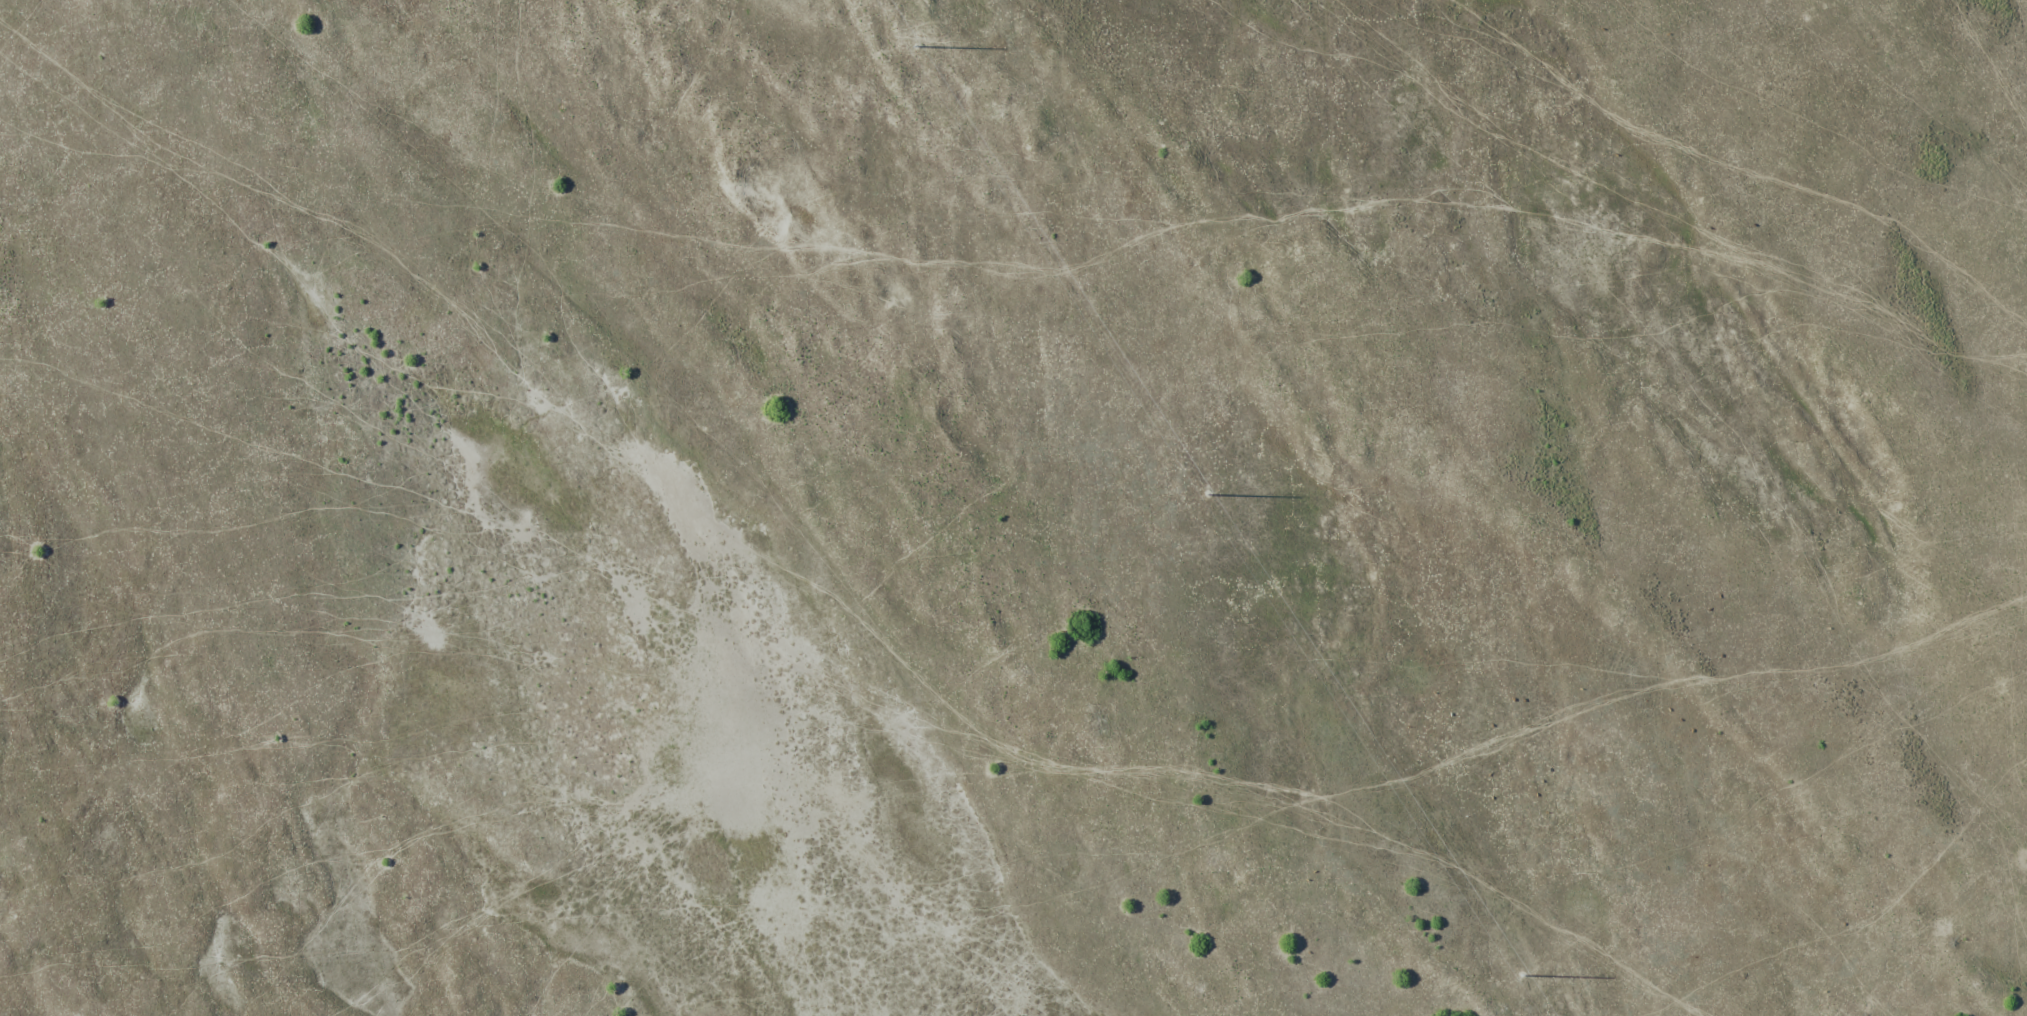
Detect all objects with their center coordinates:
power tower: (917, 47)
power tower: (1208, 495)
power tower: (1521, 976)

